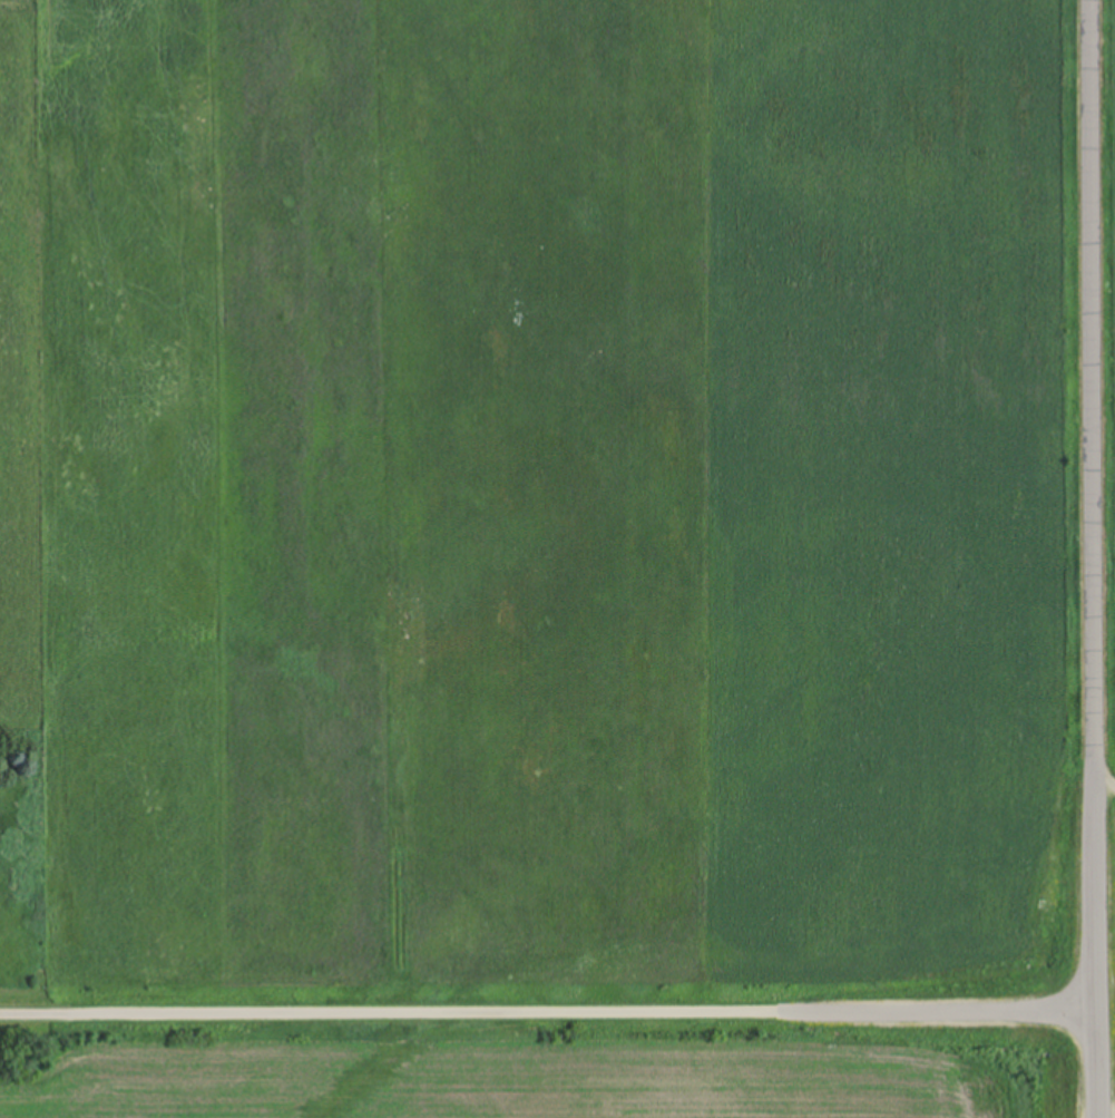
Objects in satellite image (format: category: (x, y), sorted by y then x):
crop: (1108, 480)
crop: (548, 499)
road: (1095, 558)
road: (548, 1011)
crop: (559, 1068)

